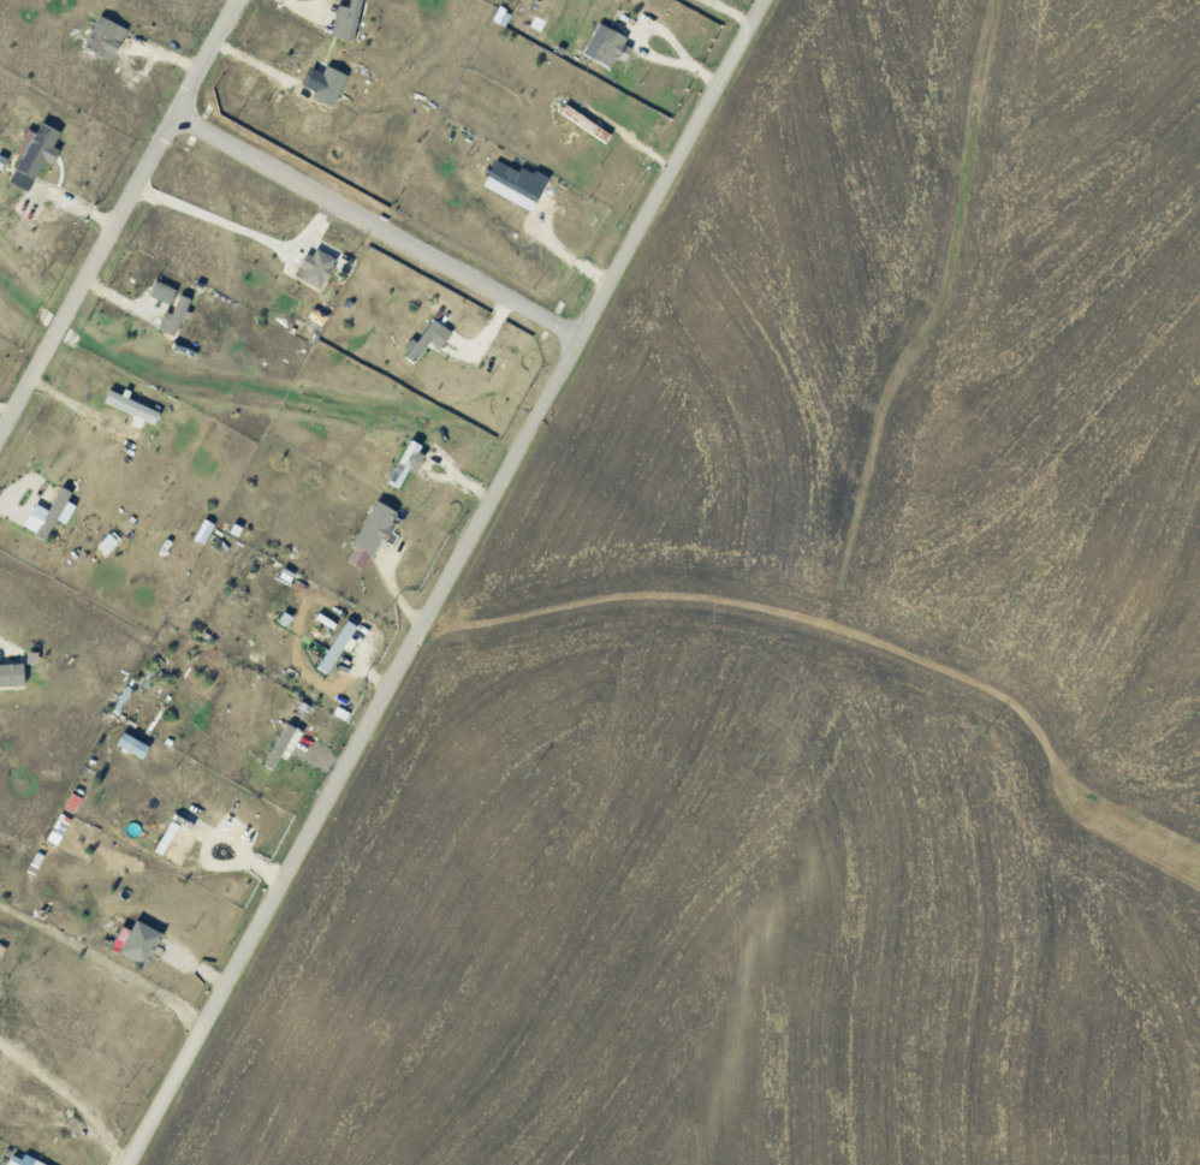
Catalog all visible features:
building: (349, 19)
building: (103, 34)
building: (607, 43)
road: (210, 65)
building: (327, 83)
building: (36, 153)
building: (512, 185)
road: (240, 228)
road: (379, 240)
building: (319, 267)
building: (165, 290)
road: (88, 291)
building: (178, 315)
building: (429, 338)
building: (135, 408)
building: (409, 462)
building: (52, 513)
building: (376, 527)
building: (109, 542)
road: (448, 582)
building: (339, 646)
building: (13, 673)
building: (284, 743)
building: (135, 744)
building: (75, 802)
building: (178, 843)
building: (143, 943)
road: (70, 1094)
building: (25, 1160)

